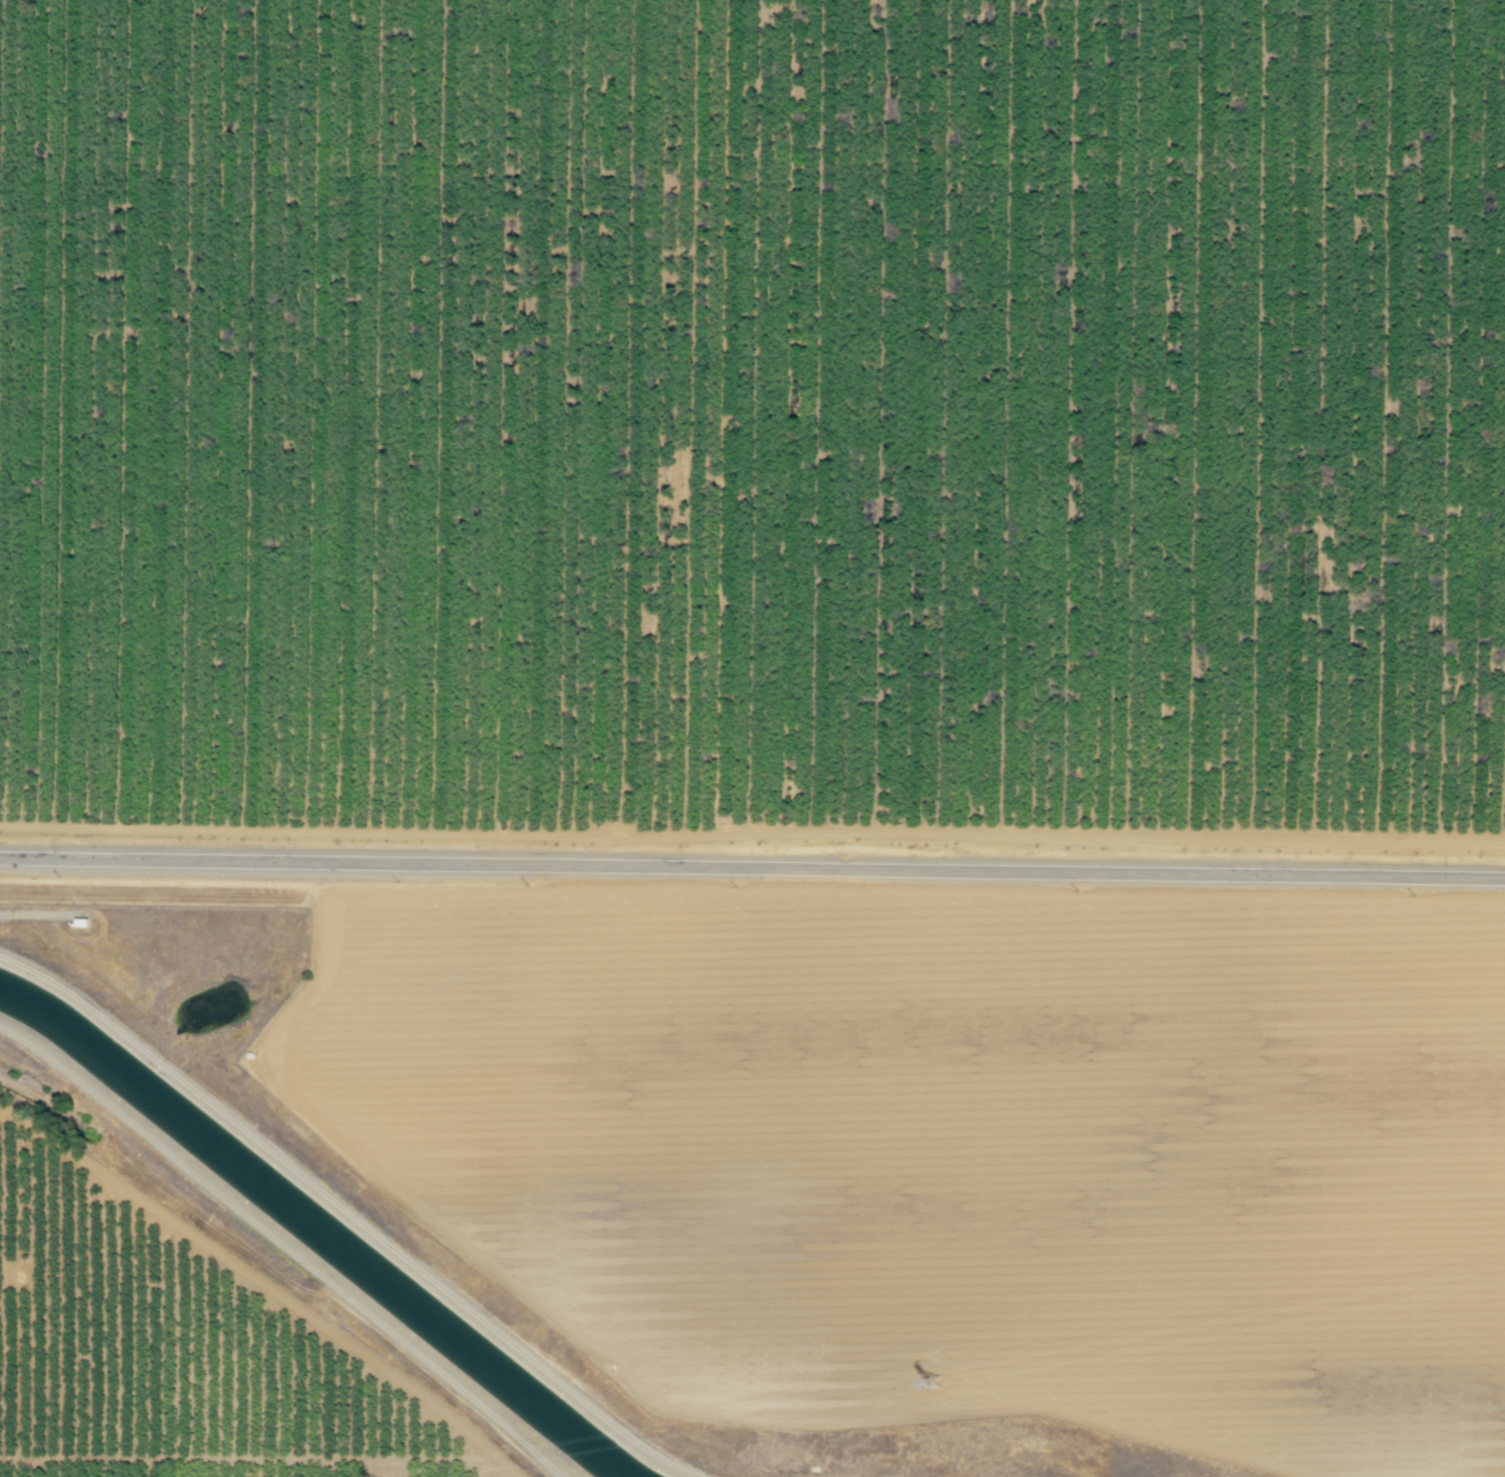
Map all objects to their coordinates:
road: (752, 833)
road: (752, 869)
road: (174, 899)
road: (40, 914)
road: (317, 1130)
road: (1024, 1239)
road: (263, 1286)
power tower: (935, 1381)
road: (690, 1412)
road: (248, 1458)

